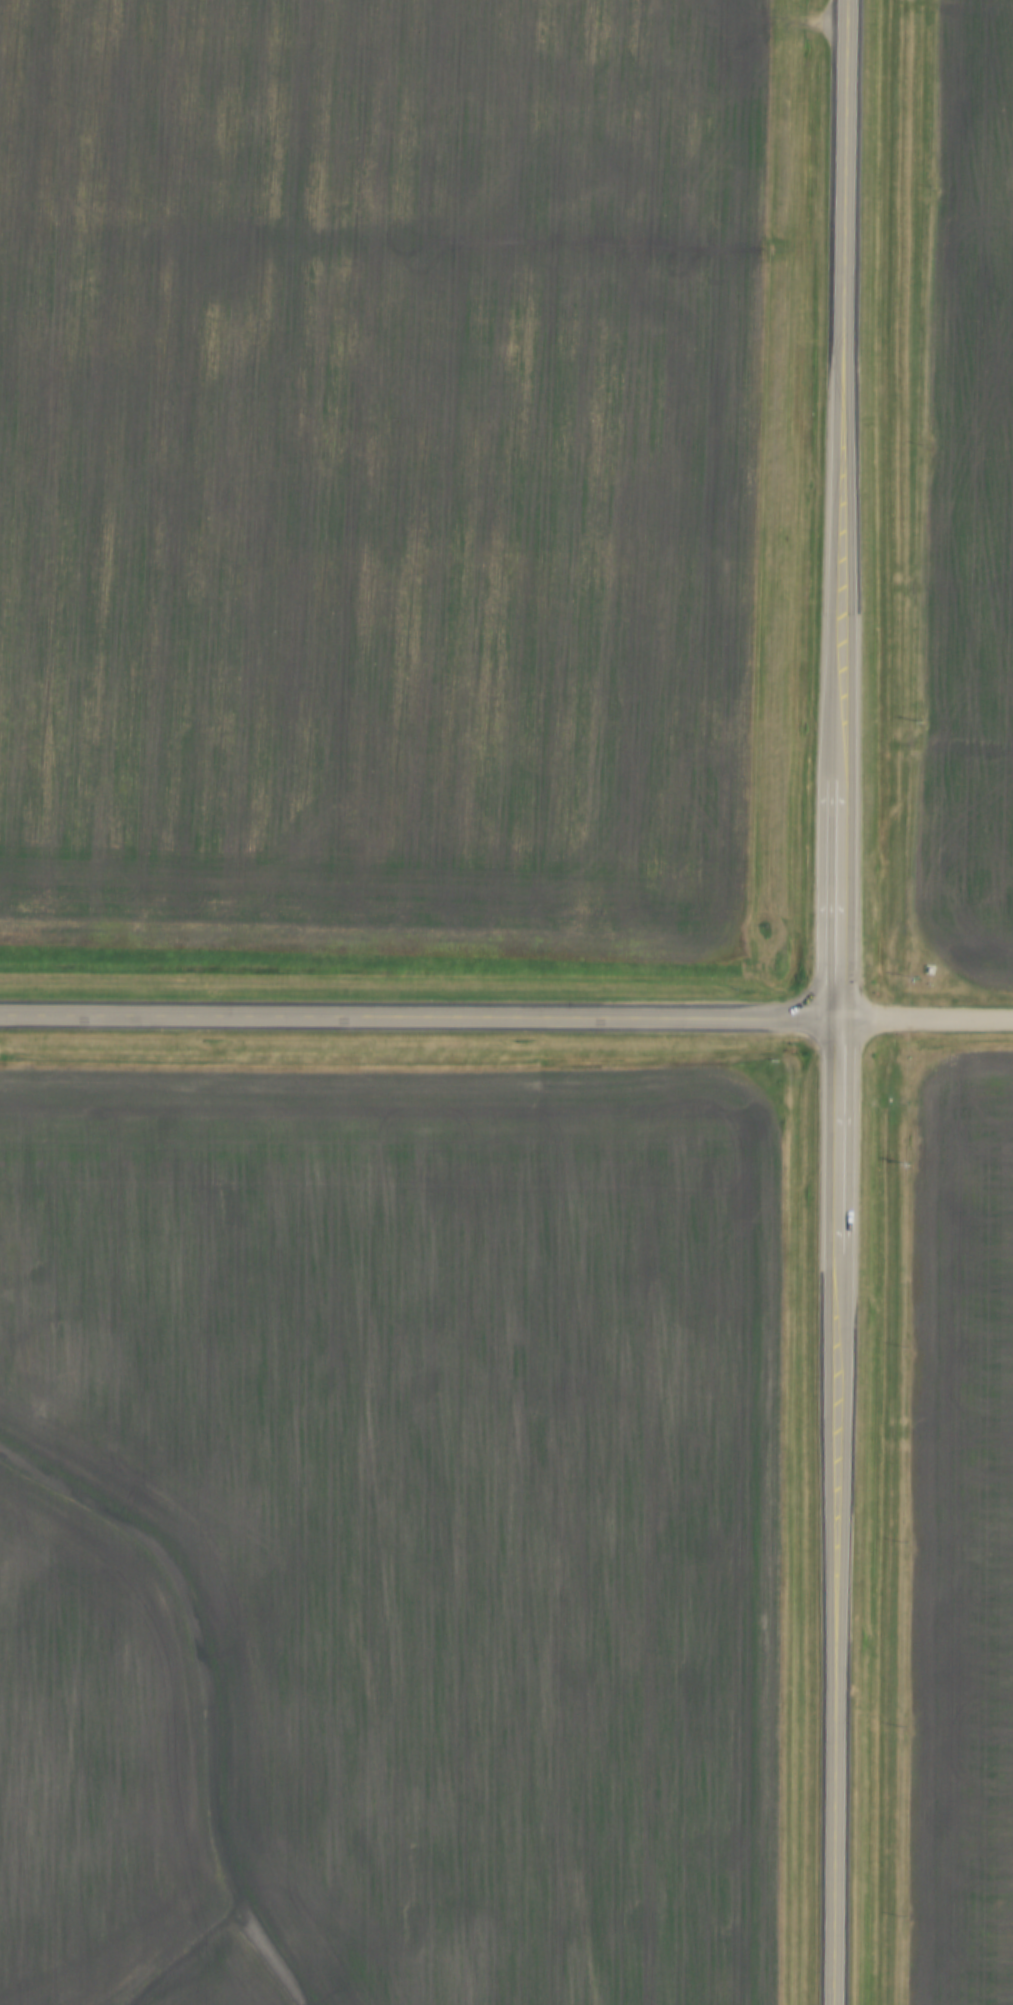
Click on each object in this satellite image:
crop: (376, 471)
road: (839, 1002)
road: (419, 1017)
road: (926, 1020)

